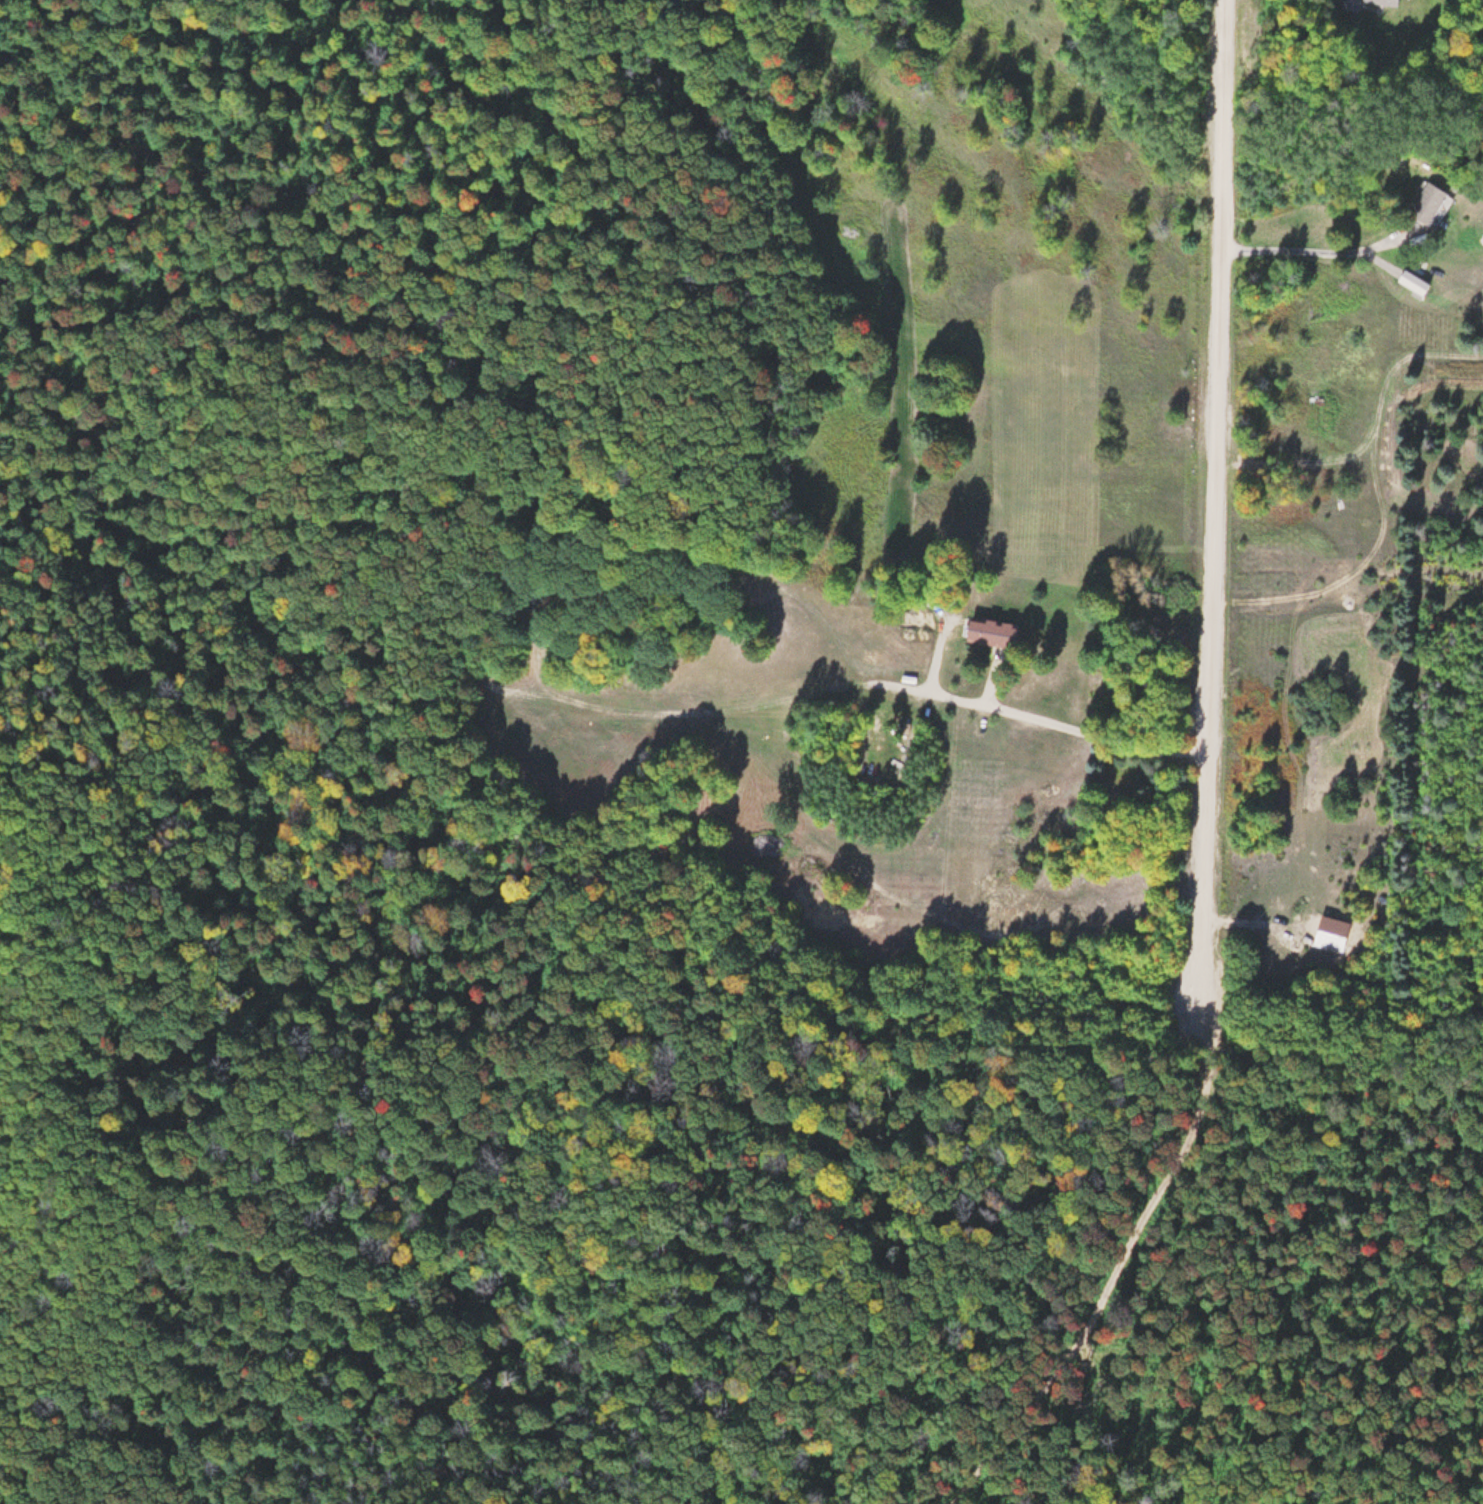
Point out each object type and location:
building: (1383, 2)
road: (1168, 83)
building: (1437, 204)
road: (1325, 251)
road: (1215, 503)
building: (1000, 630)
road: (992, 682)
road: (1030, 715)
road: (1116, 1272)
road: (1283, 1333)

